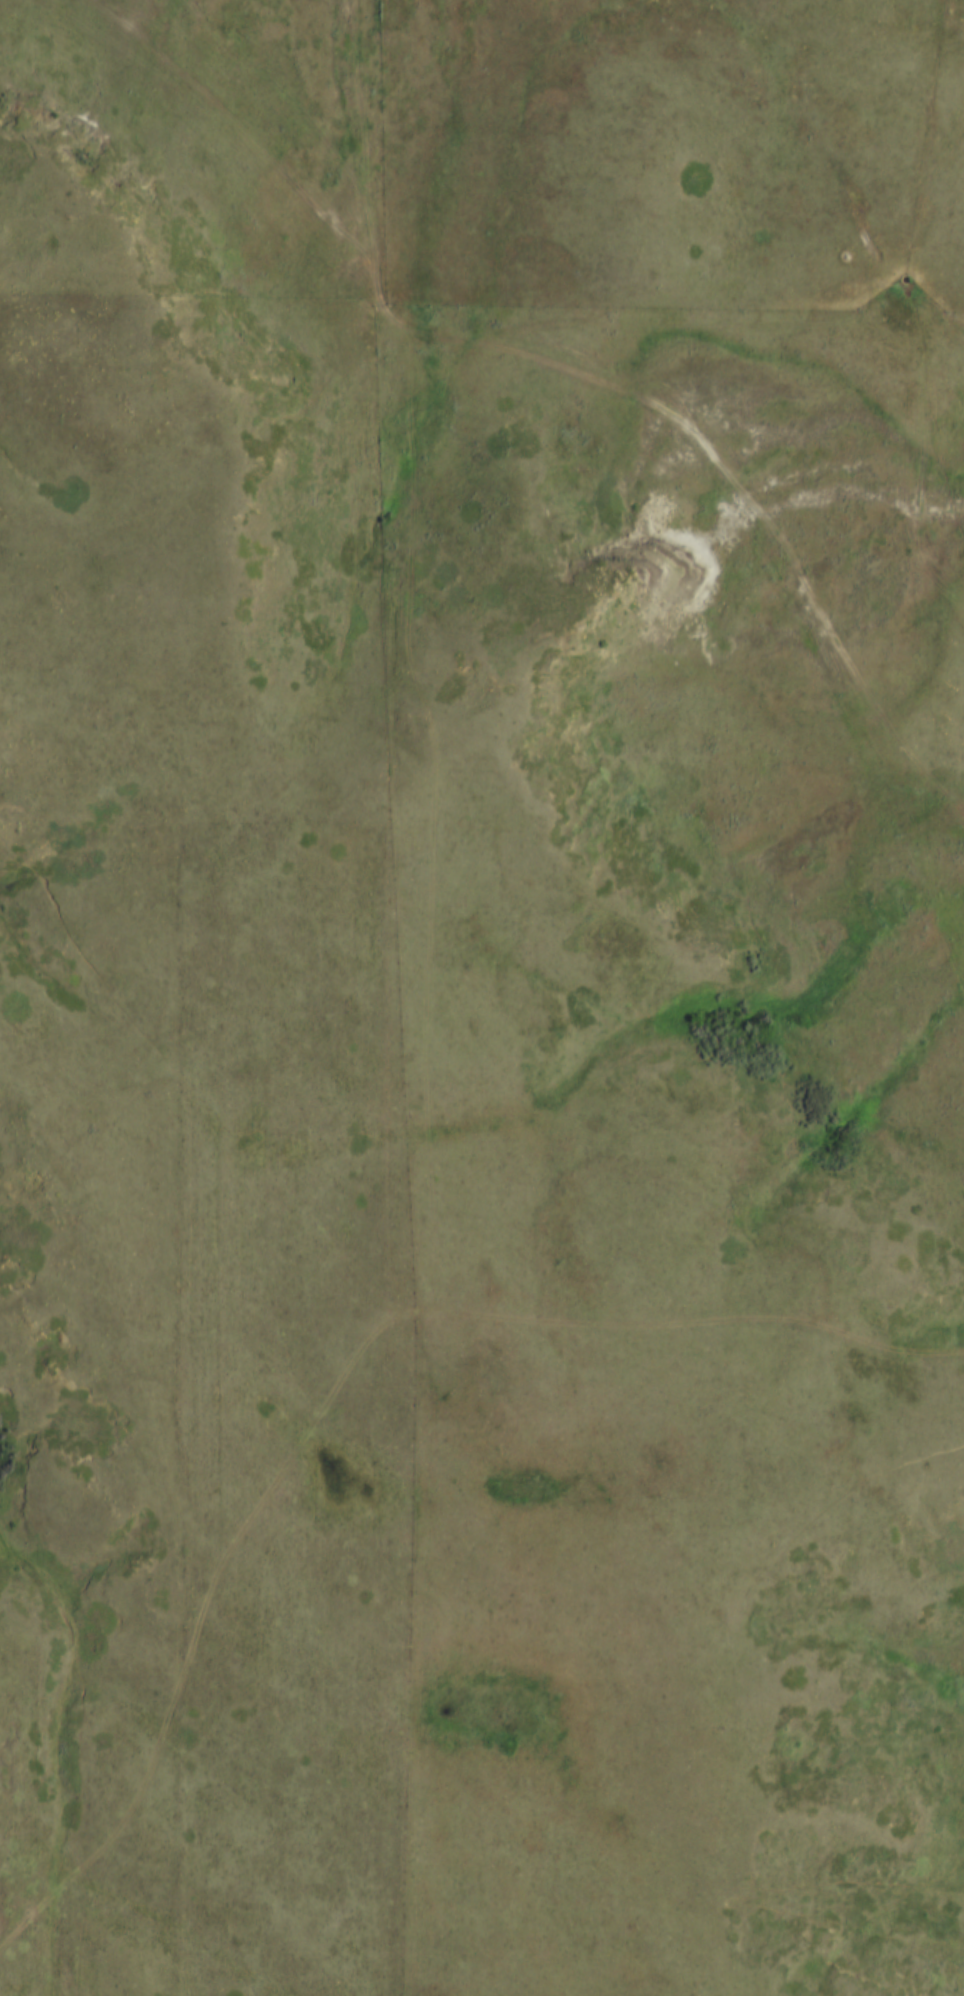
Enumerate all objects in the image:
road: (553, 367)
road: (372, 1432)

